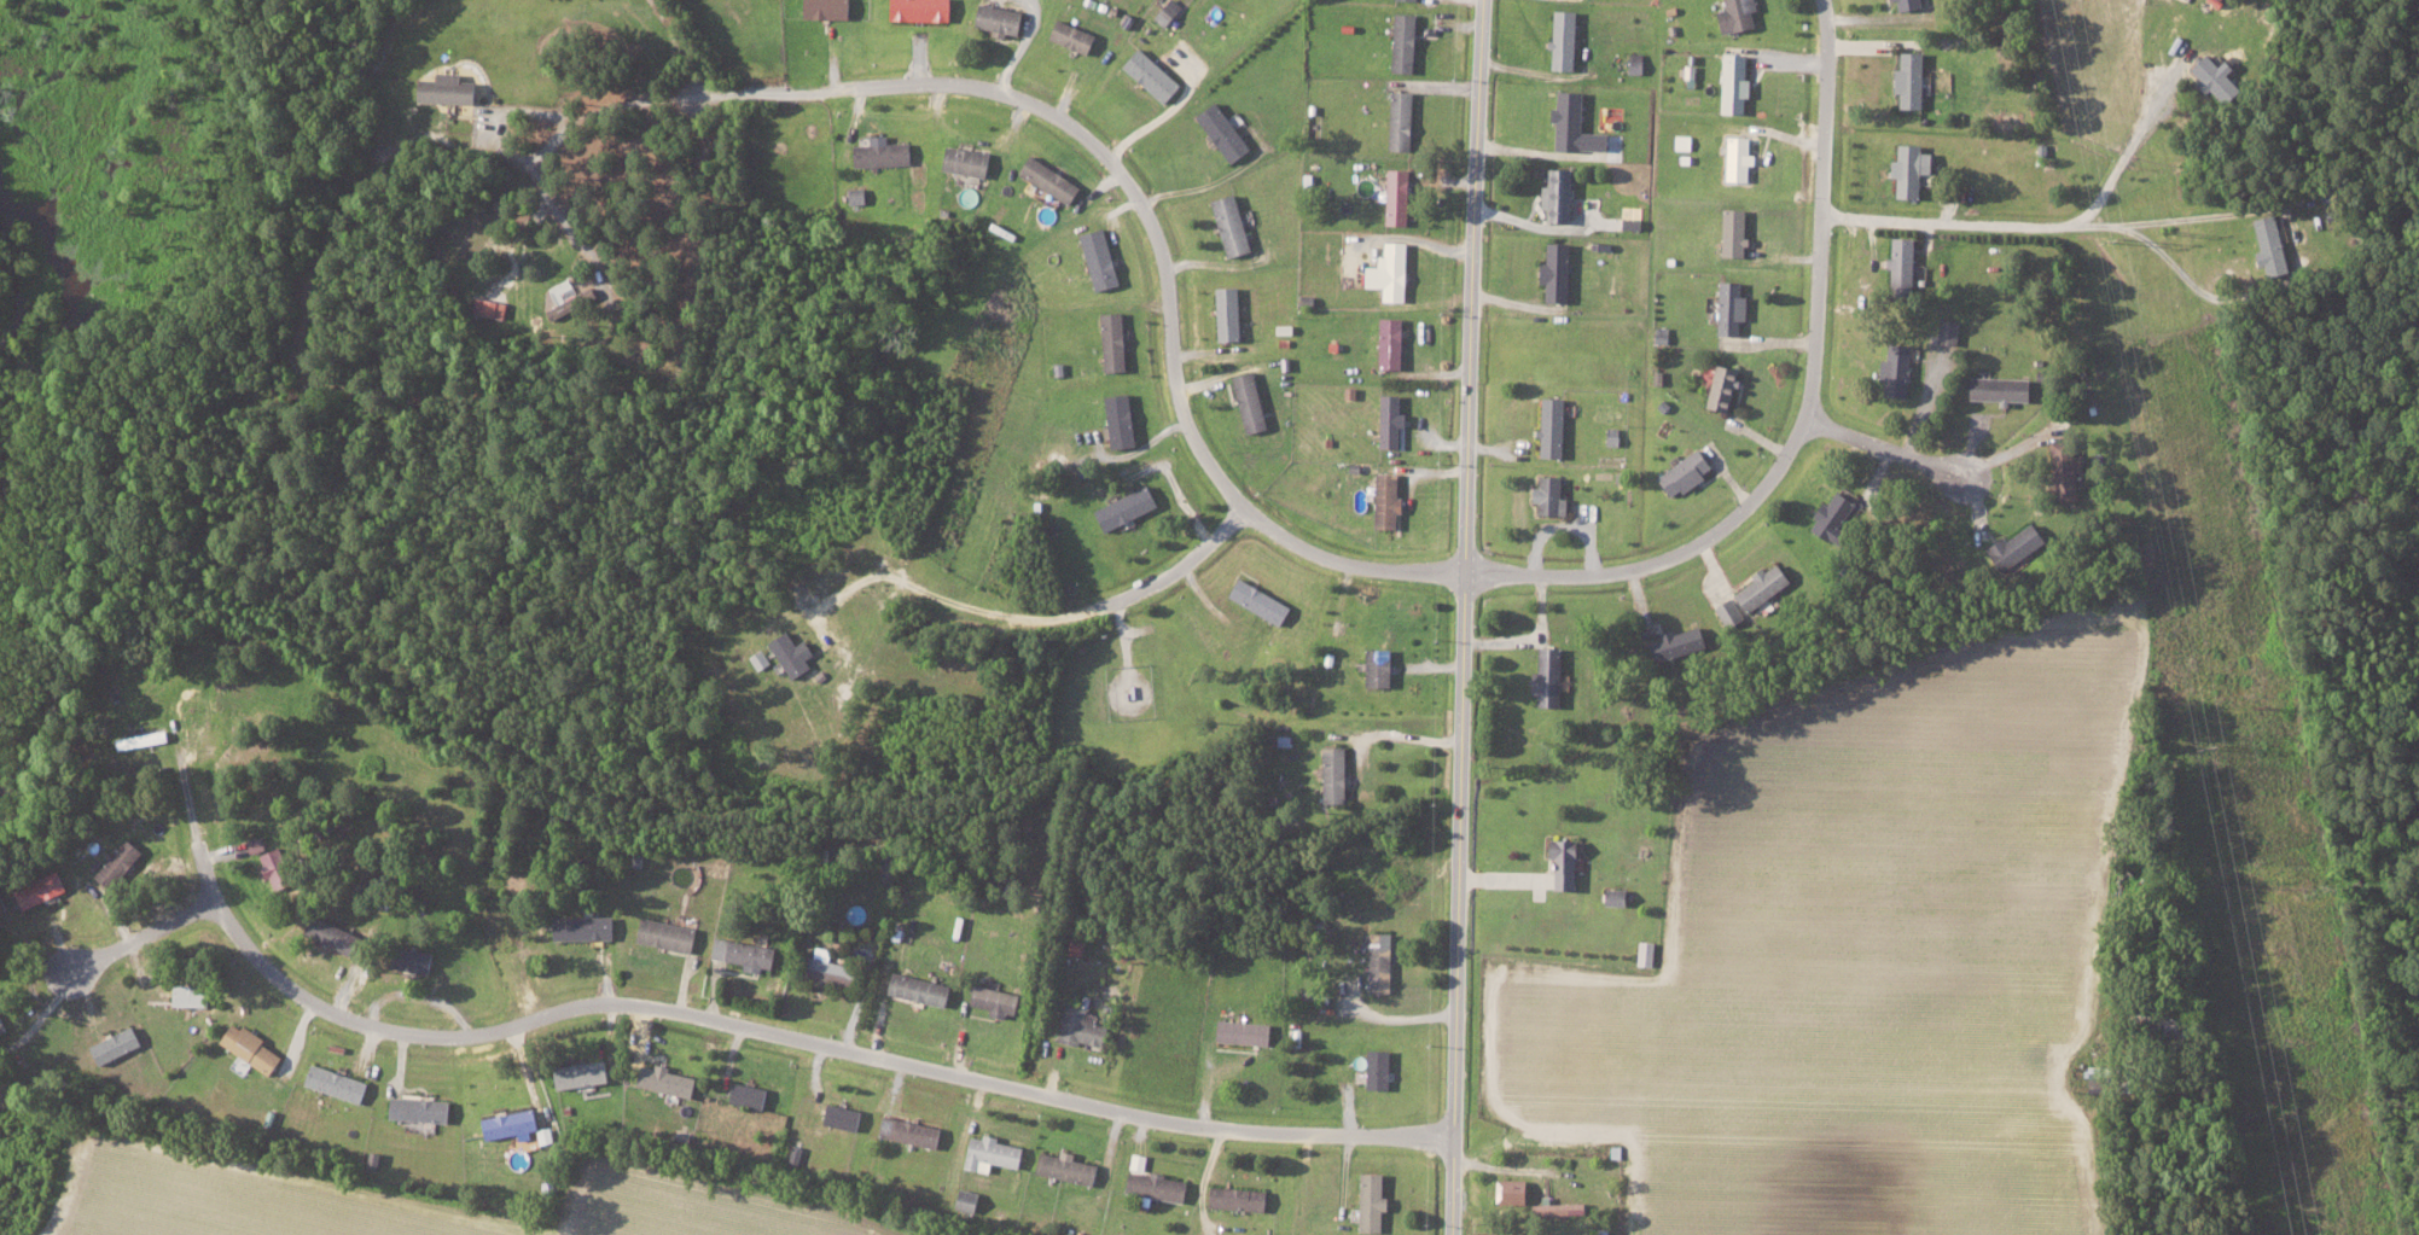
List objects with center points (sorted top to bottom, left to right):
building: (1912, 4)
building: (832, 8)
building: (923, 8)
building: (1170, 11)
building: (1741, 14)
building: (1004, 18)
building: (1075, 35)
building: (1569, 39)
building: (1408, 40)
building: (1155, 74)
building: (2210, 75)
building: (1914, 77)
building: (1738, 82)
building: (453, 88)
road: (528, 110)
building: (1405, 120)
building: (1578, 123)
building: (1227, 130)
building: (1686, 140)
building: (885, 151)
building: (1740, 157)
building: (970, 159)
building: (1915, 168)
building: (1053, 177)
building: (1562, 193)
building: (857, 194)
building: (1400, 196)
road: (2184, 215)
road: (560, 216)
building: (1234, 225)
building: (1738, 231)
road: (1153, 232)
power tower: (2167, 233)
power tower: (2116, 238)
building: (2267, 244)
building: (1104, 257)
building: (1906, 262)
building: (1392, 272)
building: (1559, 272)
building: (574, 302)
building: (493, 307)
building: (1735, 307)
building: (1233, 313)
building: (1952, 330)
building: (1117, 340)
building: (1392, 342)
building: (1900, 369)
building: (1728, 386)
building: (2005, 388)
building: (1254, 401)
road: (1802, 412)
building: (1123, 420)
building: (1394, 420)
building: (1556, 426)
road: (1879, 445)
building: (2070, 467)
building: (1690, 471)
building: (1553, 495)
building: (1391, 500)
building: (1129, 506)
building: (1837, 517)
building: (2022, 544)
road: (1181, 564)
building: (1766, 584)
road: (954, 599)
building: (1263, 600)
building: (1731, 612)
road: (1463, 617)
building: (1681, 642)
building: (795, 652)
building: (1380, 666)
building: (1551, 676)
power tower: (2264, 701)
power tower: (2217, 745)
building: (1337, 774)
building: (121, 862)
building: (1570, 863)
building: (280, 868)
building: (43, 889)
building: (586, 927)
road: (144, 932)
building: (337, 934)
building: (668, 934)
building: (745, 953)
building: (1647, 953)
building: (418, 960)
building: (1382, 961)
building: (835, 968)
building: (923, 989)
building: (194, 994)
building: (999, 1000)
road: (1403, 1016)
building: (2, 1024)
road: (750, 1026)
building: (1085, 1027)
building: (1246, 1032)
building: (118, 1044)
building: (254, 1047)
building: (1380, 1068)
building: (586, 1073)
building: (668, 1079)
building: (339, 1083)
building: (752, 1095)
building: (423, 1108)
building: (844, 1115)
building: (913, 1131)
building: (994, 1153)
building: (1070, 1166)
building: (1159, 1186)
building: (1516, 1190)
building: (1240, 1198)
building: (1377, 1201)
building: (1563, 1208)

